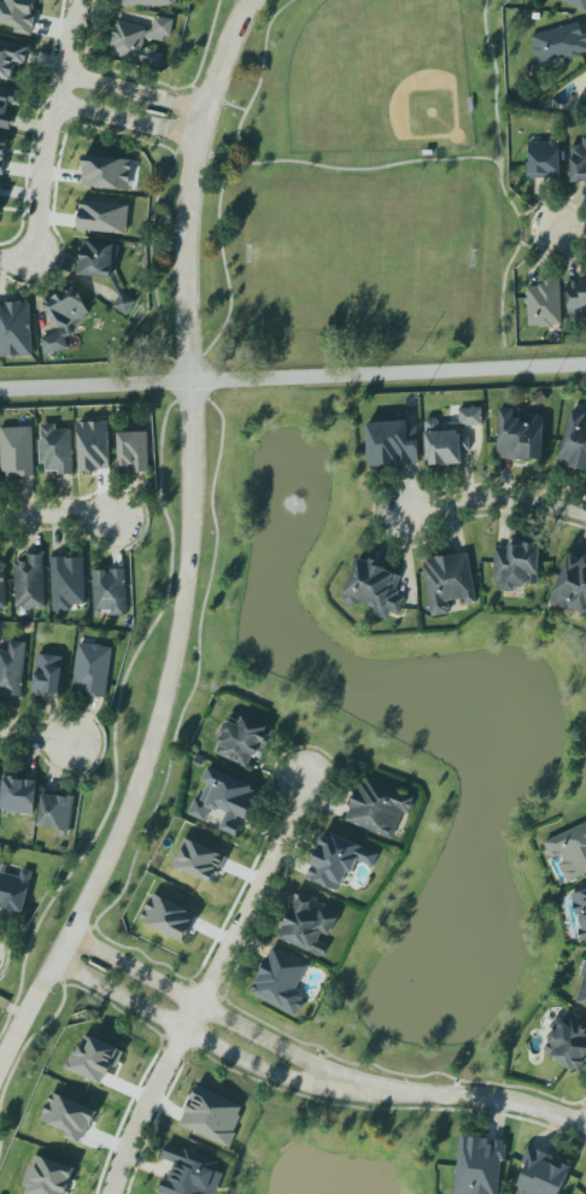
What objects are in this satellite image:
building: (150, 2)
building: (576, 4)
building: (19, 13)
building: (140, 41)
building: (559, 42)
building: (12, 59)
park: (381, 80)
road: (135, 90)
building: (582, 98)
road: (229, 103)
building: (6, 106)
road: (127, 119)
road: (51, 128)
building: (2, 152)
building: (544, 160)
building: (578, 163)
road: (347, 169)
building: (107, 172)
road: (502, 175)
road: (223, 180)
building: (0, 187)
road: (545, 200)
building: (104, 217)
road: (572, 229)
road: (541, 250)
road: (16, 257)
building: (104, 269)
building: (576, 297)
building: (545, 306)
building: (64, 320)
building: (14, 330)
road: (388, 373)
road: (95, 384)
building: (520, 437)
building: (450, 438)
building: (393, 444)
building: (575, 444)
building: (94, 445)
building: (55, 449)
building: (17, 451)
building: (134, 451)
road: (487, 502)
fountain: (299, 505)
road: (59, 513)
road: (192, 546)
building: (516, 567)
building: (30, 583)
building: (68, 584)
building: (449, 586)
building: (572, 586)
building: (2, 587)
building: (374, 590)
building: (110, 592)
building: (12, 669)
building: (93, 669)
building: (48, 674)
road: (36, 737)
building: (242, 742)
building: (18, 795)
building: (225, 803)
building: (379, 807)
building: (57, 815)
building: (63, 849)
building: (570, 850)
building: (200, 860)
building: (338, 860)
building: (14, 891)
building: (581, 912)
building: (169, 917)
building: (309, 924)
fountain: (449, 978)
building: (281, 981)
road: (206, 984)
building: (584, 987)
road: (205, 1005)
road: (191, 1034)
building: (568, 1044)
building: (100, 1050)
road: (463, 1098)
building: (69, 1116)
building: (213, 1116)
road: (585, 1129)
building: (479, 1165)
building: (191, 1173)
building: (543, 1173)
building: (48, 1175)

